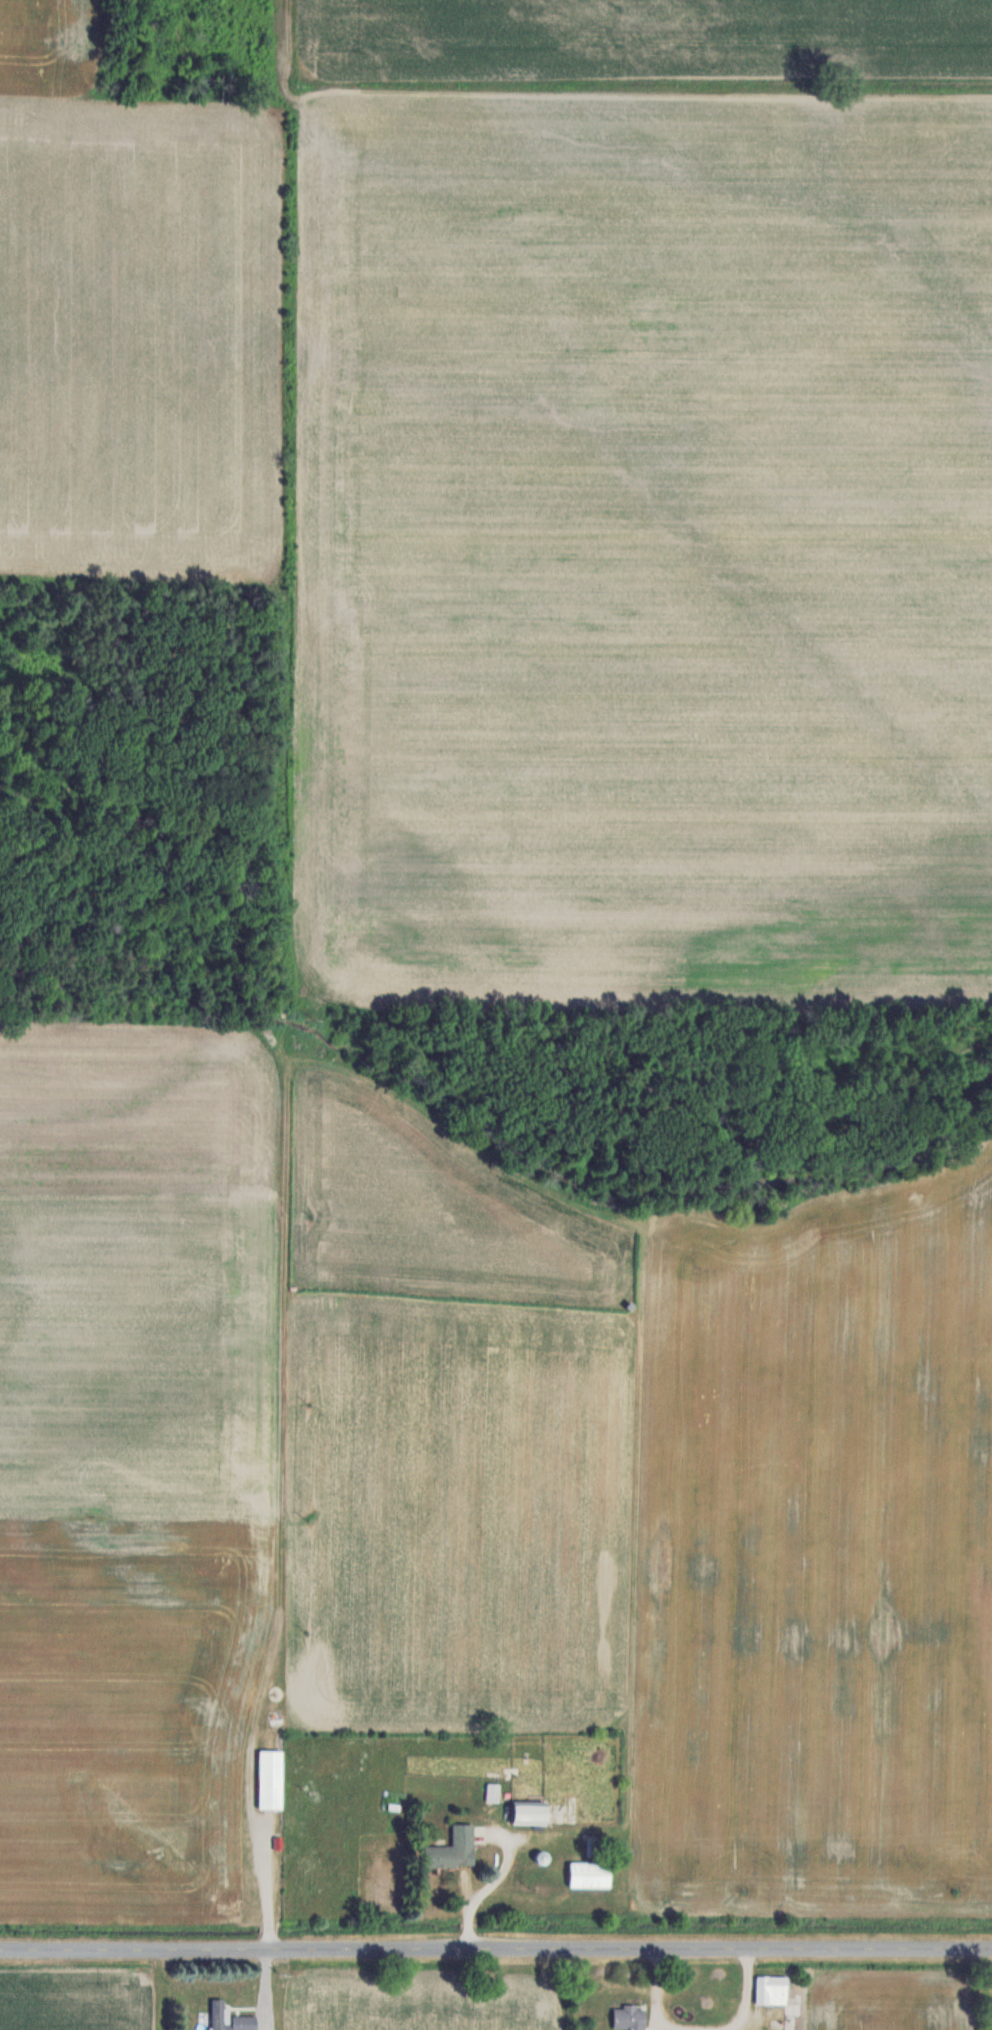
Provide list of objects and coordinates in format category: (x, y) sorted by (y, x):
building: (270, 1779)
building: (492, 1793)
building: (529, 1813)
building: (453, 1850)
building: (589, 1875)
road: (496, 1946)
building: (771, 1990)
building: (229, 2018)
building: (629, 2018)

